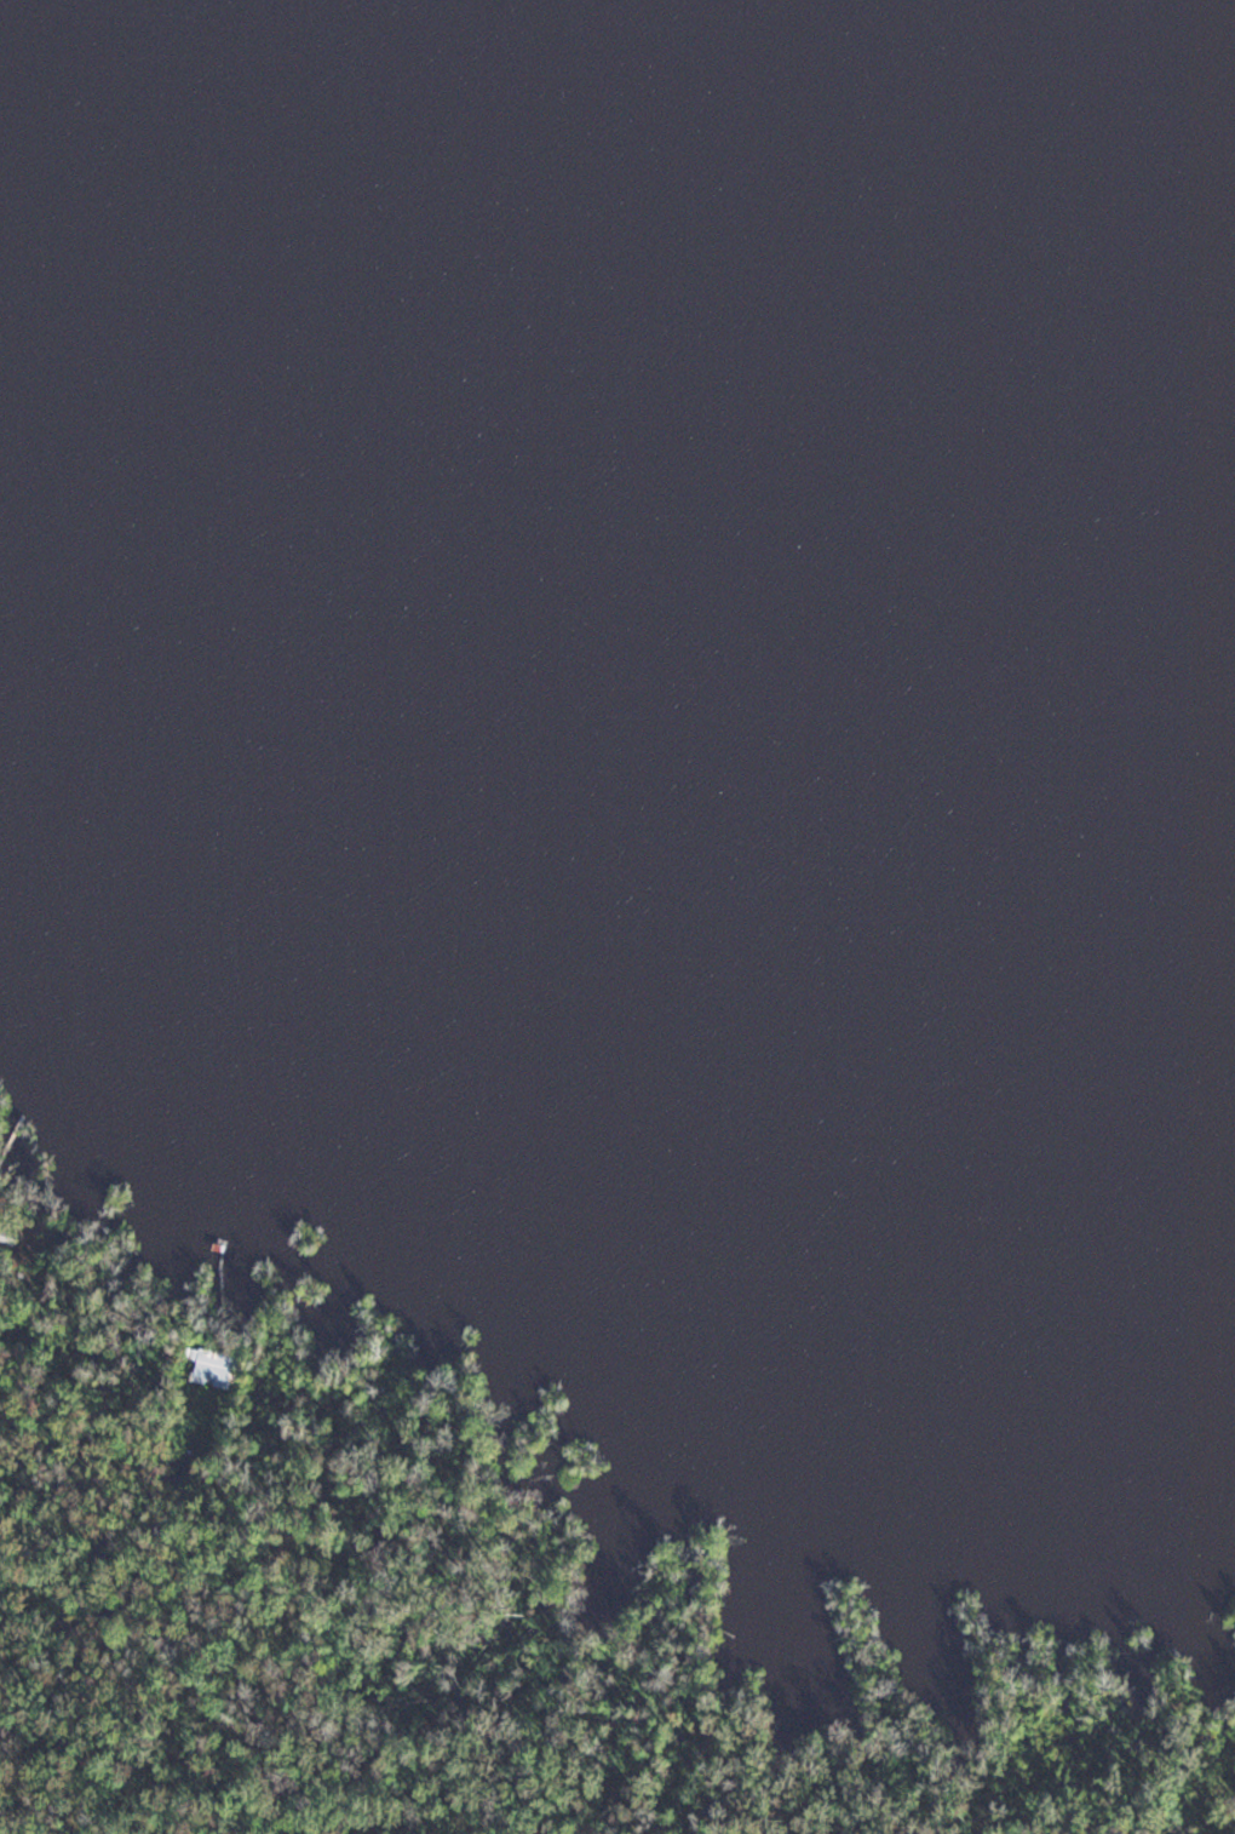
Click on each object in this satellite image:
building: (211, 1368)

